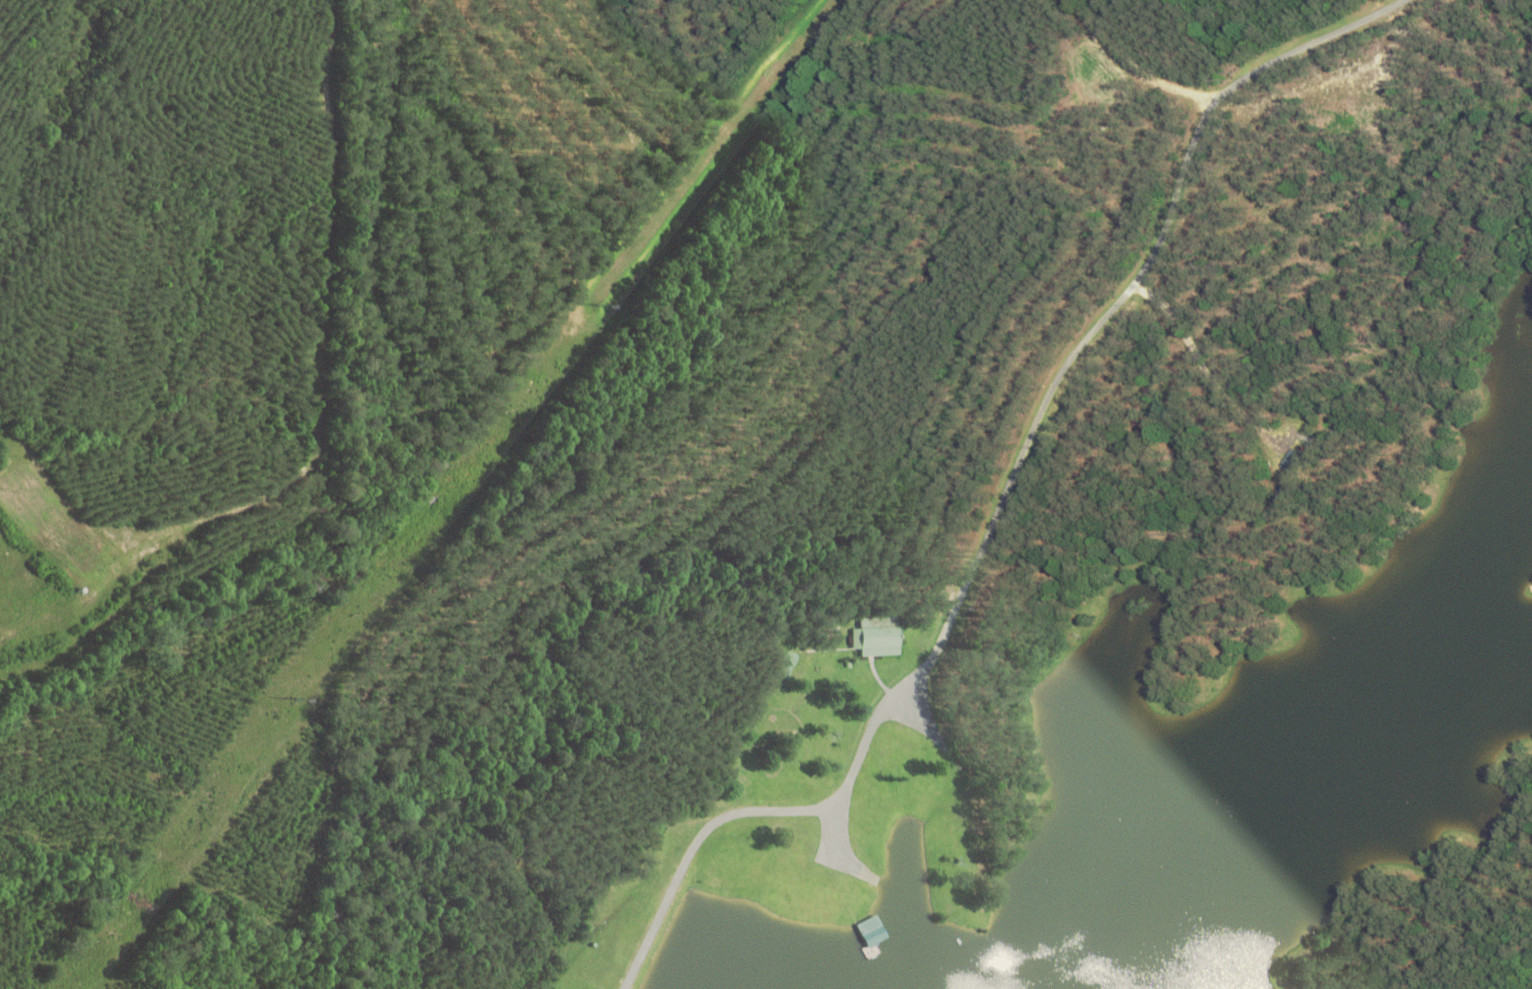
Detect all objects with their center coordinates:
road: (746, 535)
building: (877, 638)
building: (1017, 872)
building: (869, 940)

